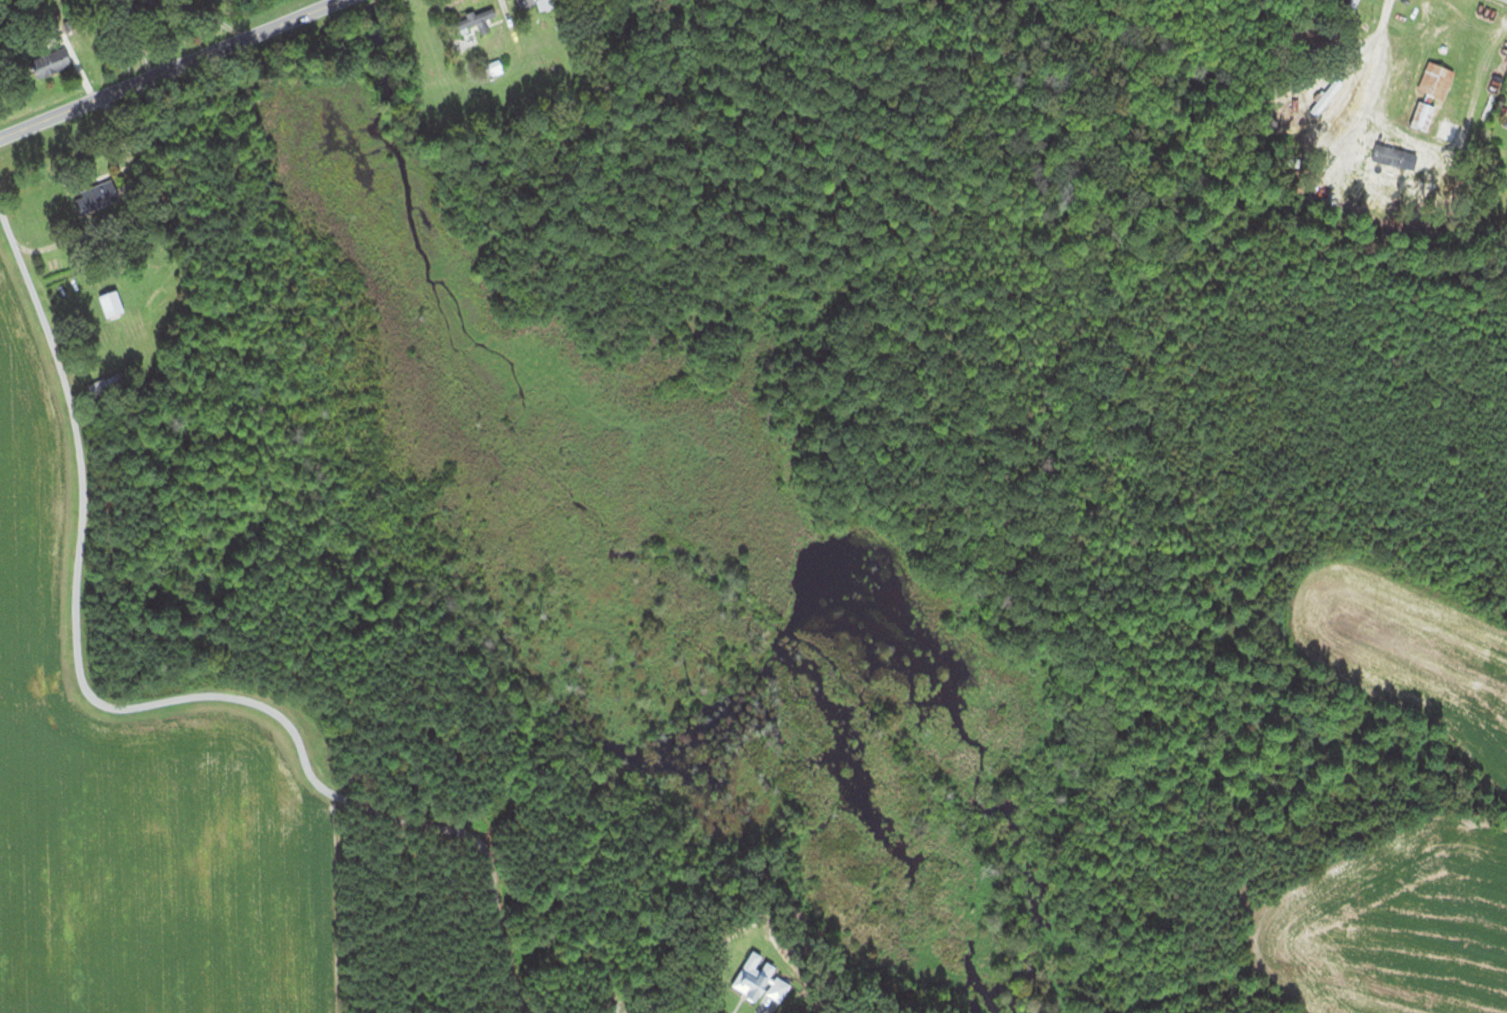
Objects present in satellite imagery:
building: (535, 2)
building: (476, 17)
building: (52, 59)
road: (167, 68)
building: (1427, 80)
building: (1413, 116)
building: (1355, 161)
building: (1408, 173)
building: (105, 193)
building: (112, 304)
building: (107, 385)
road: (145, 708)

